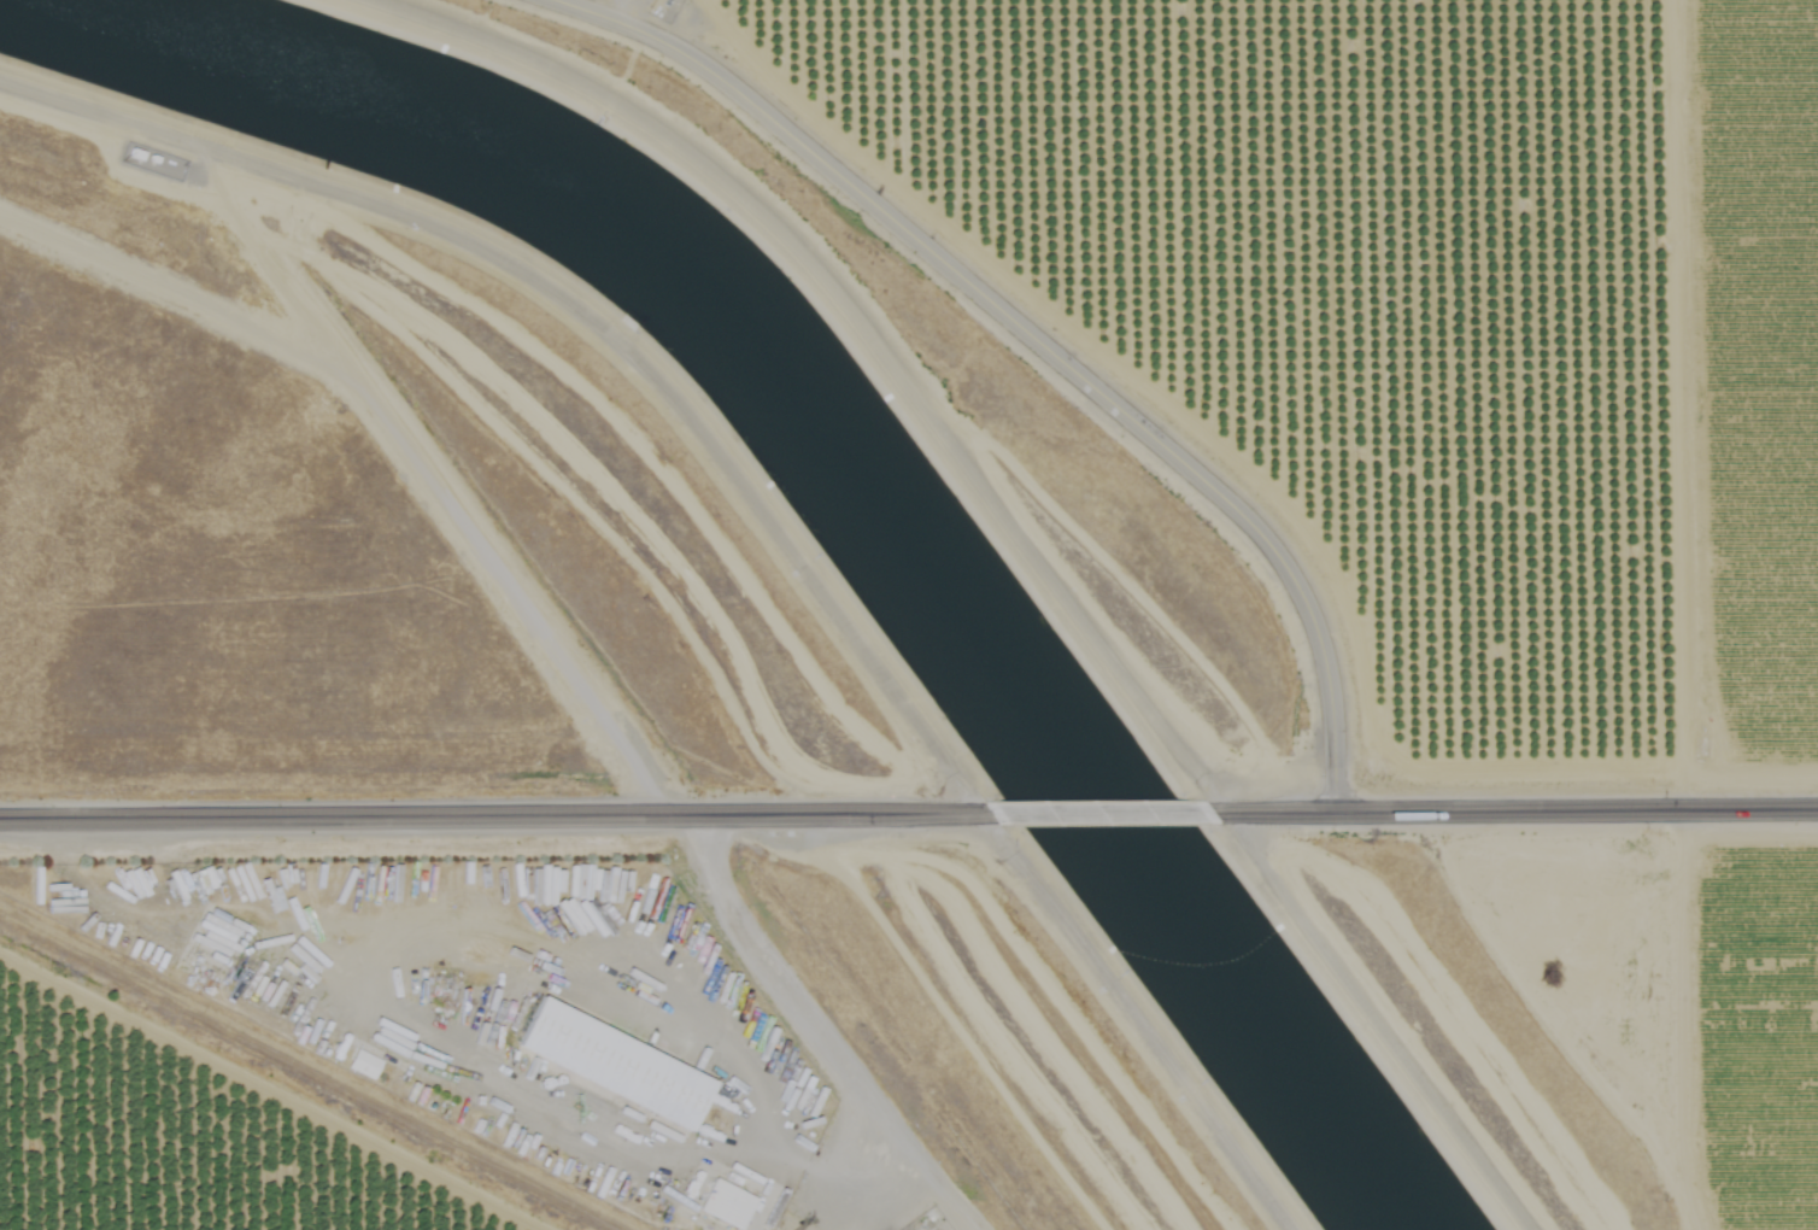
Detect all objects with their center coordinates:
crop: (1425, 300)
road: (1103, 326)
road: (1514, 813)
road: (1103, 820)
road: (498, 827)
road: (862, 1029)
building: (611, 1061)
building: (358, 1062)
building: (722, 1202)
crop: (1817, 1203)

